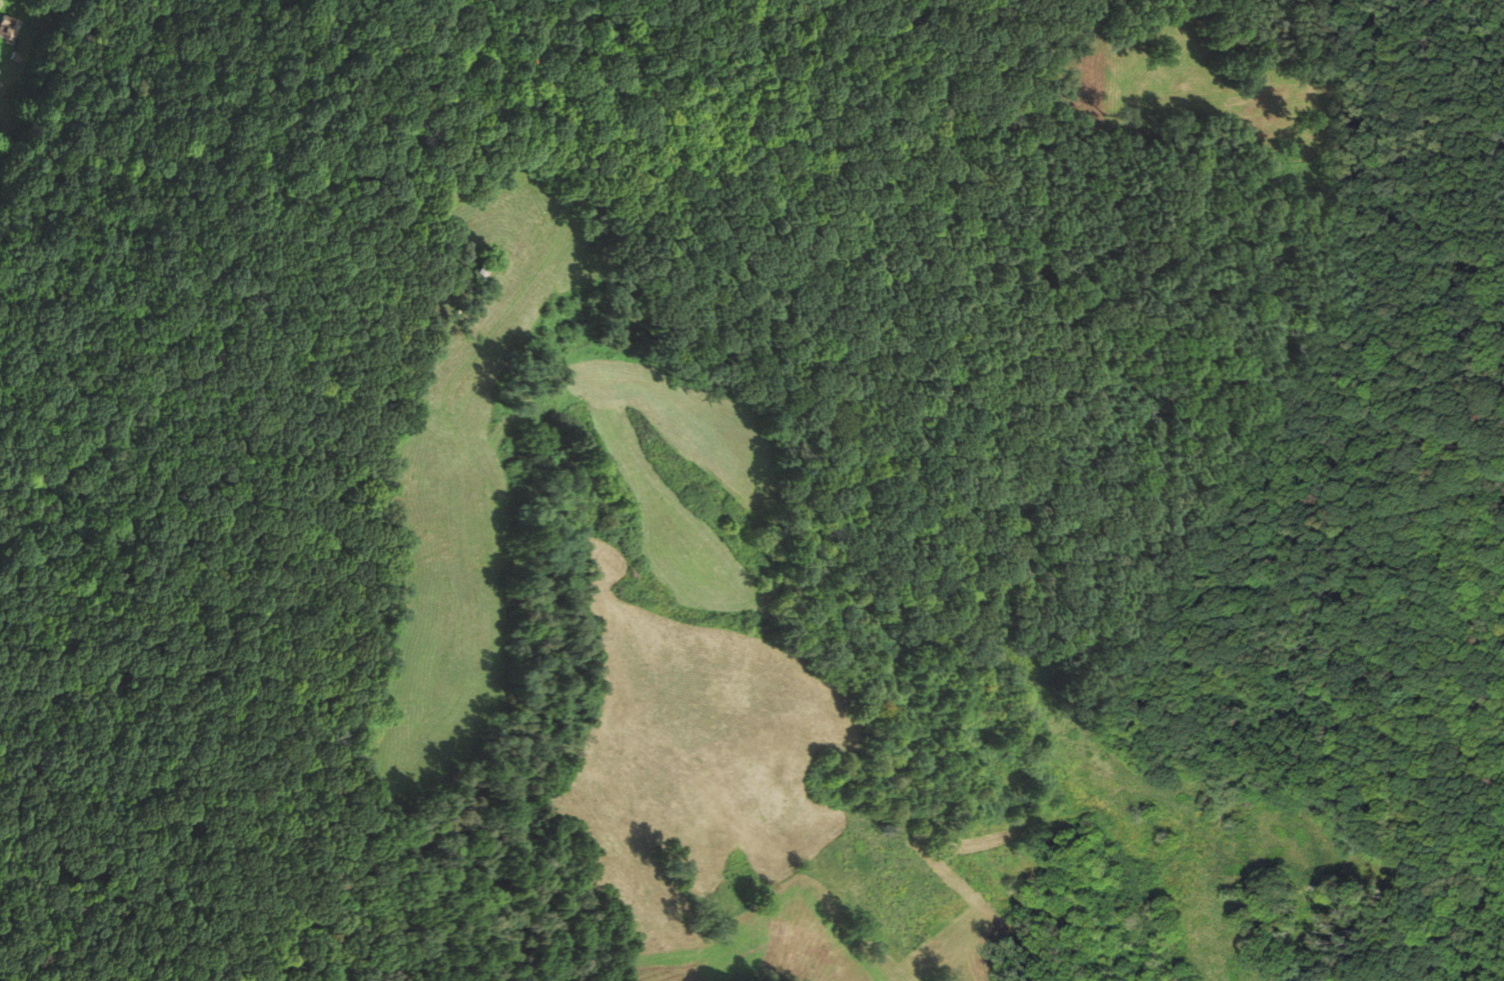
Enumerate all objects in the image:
building: (11, 28)

